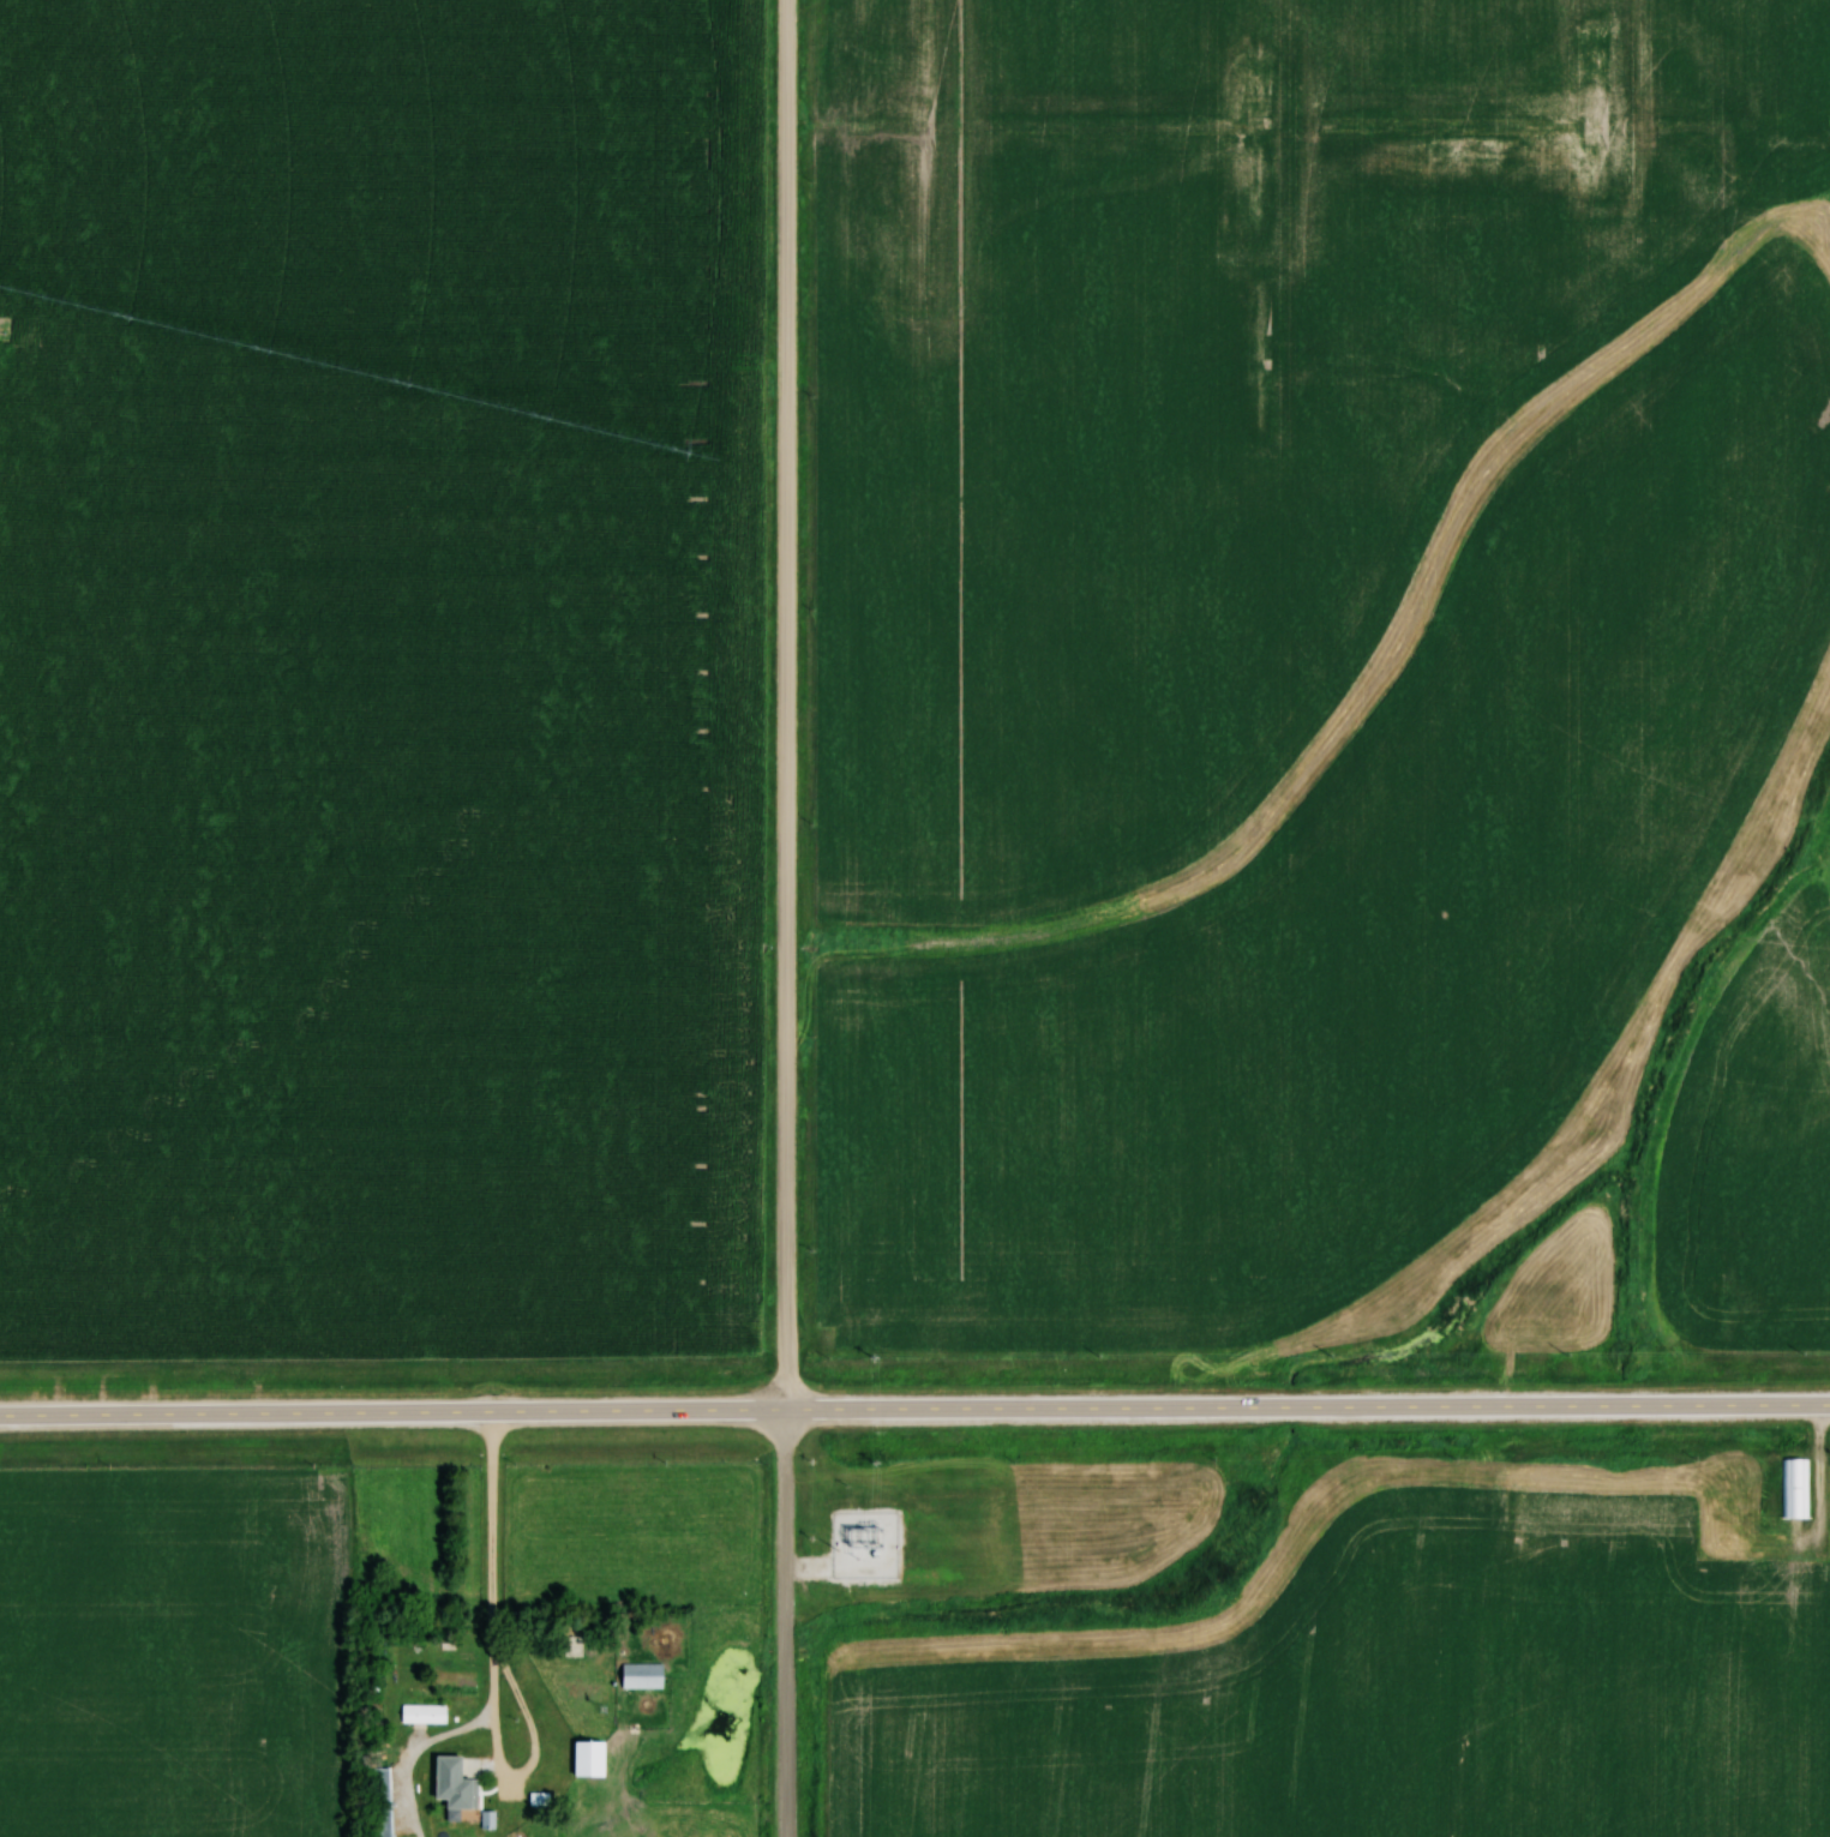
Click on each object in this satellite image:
road: (788, 918)
road: (914, 1411)
building: (1798, 1489)
road: (498, 1535)
crop: (169, 1653)
building: (647, 1675)
building: (427, 1713)
road: (536, 1729)
building: (589, 1755)
building: (461, 1779)
building: (385, 1801)

